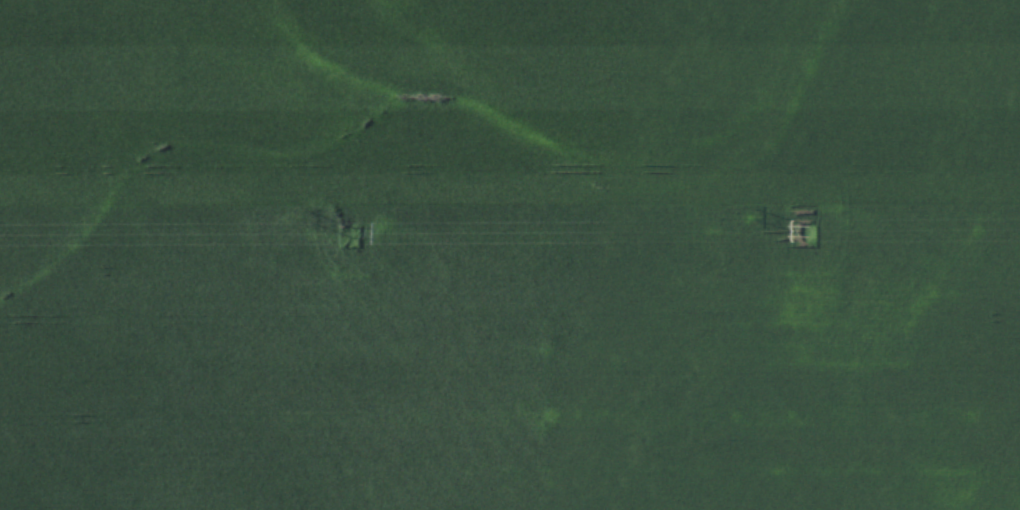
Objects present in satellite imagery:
power tower: (810, 230)
power tower: (353, 232)

